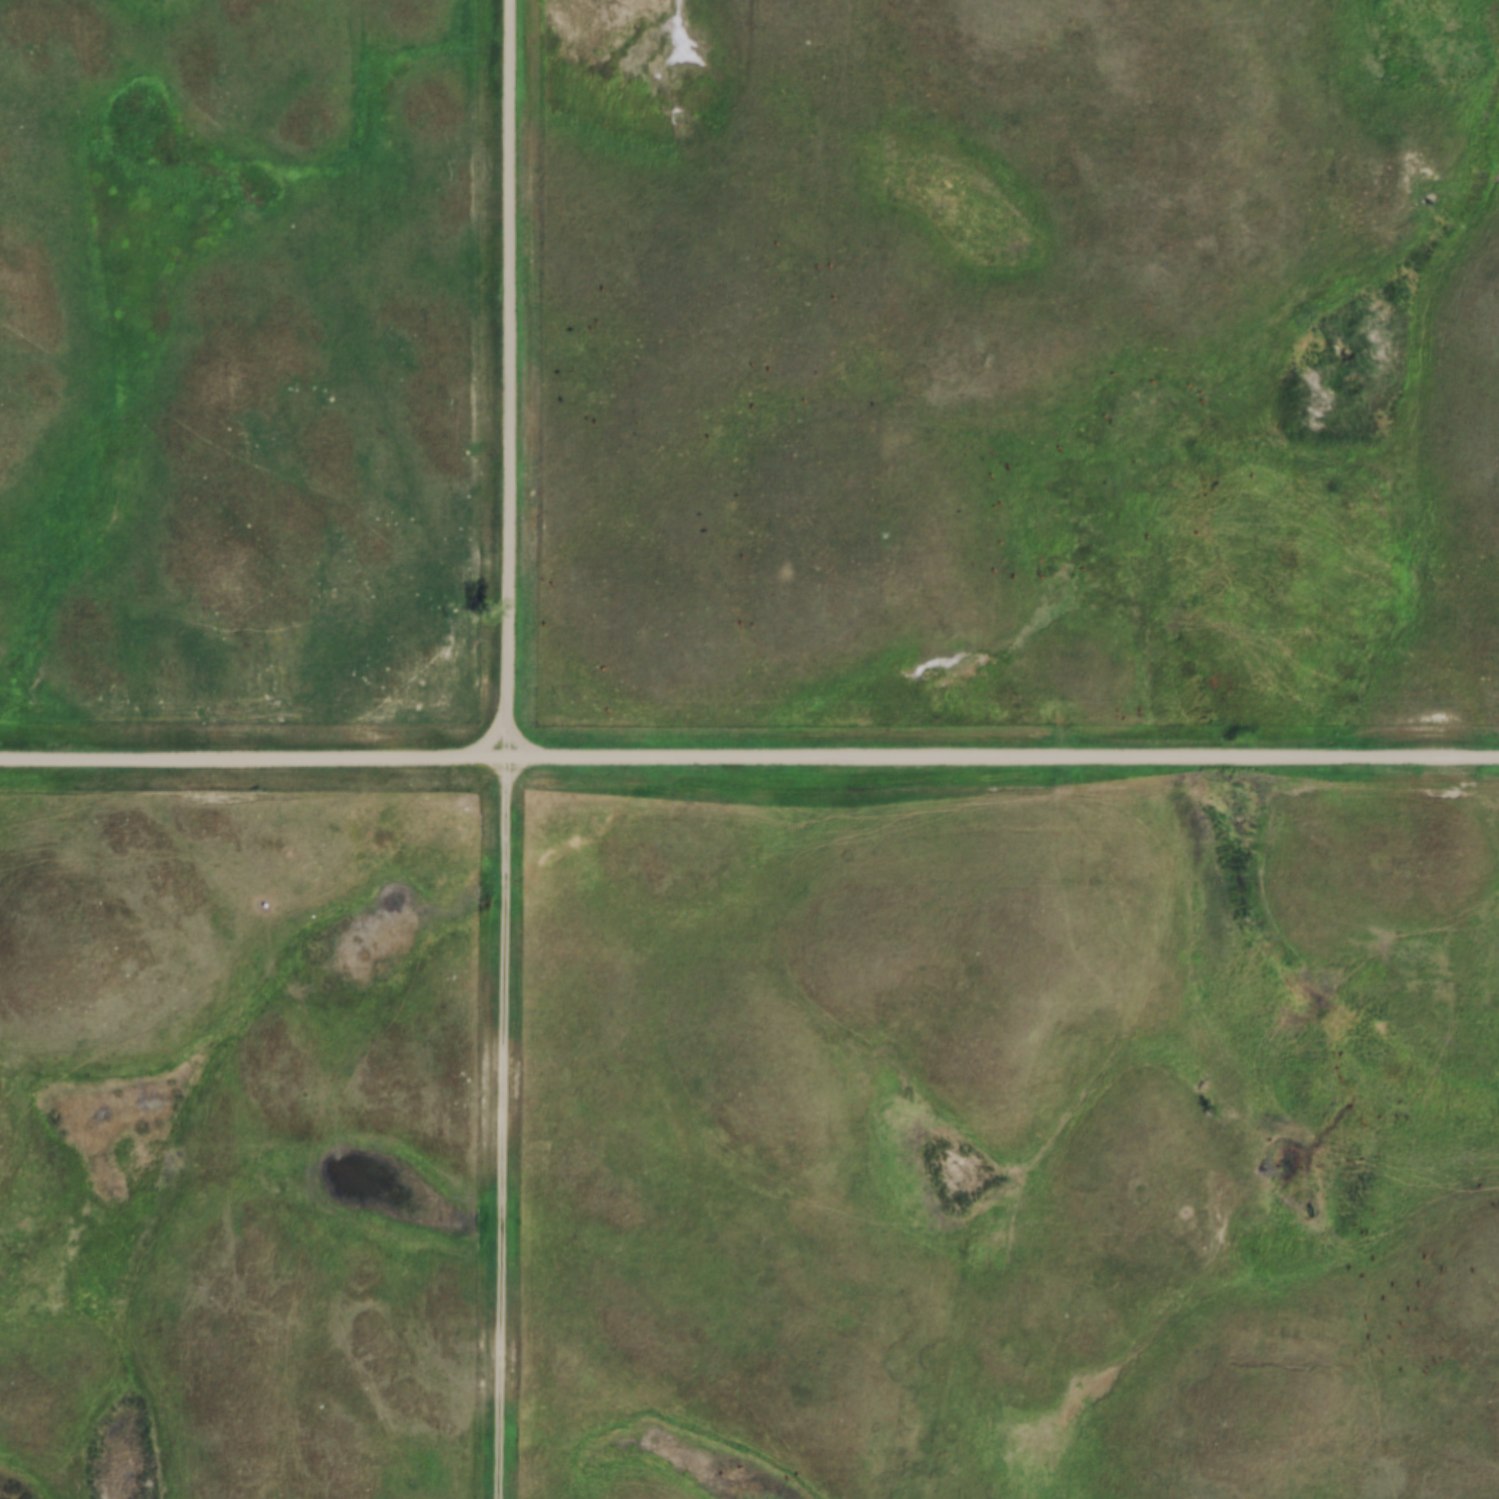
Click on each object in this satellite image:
road: (504, 381)
road: (749, 760)
road: (498, 1130)

